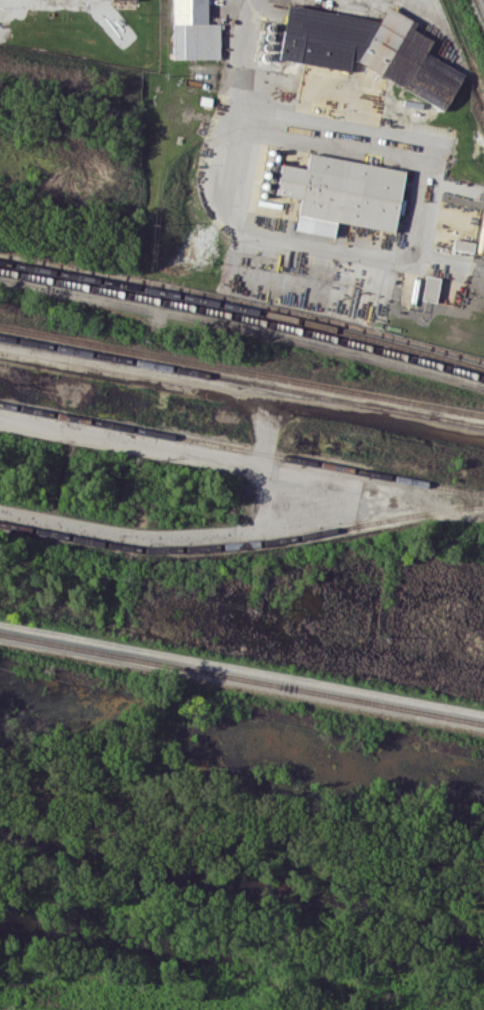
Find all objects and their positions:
building: (193, 30)
building: (369, 46)
road: (236, 114)
building: (341, 189)
building: (430, 288)
railway: (243, 307)
railway: (243, 318)
railway: (242, 369)
railway: (242, 381)
road: (161, 447)
railway: (241, 448)
road: (172, 535)
railway: (242, 544)
railway: (242, 675)

